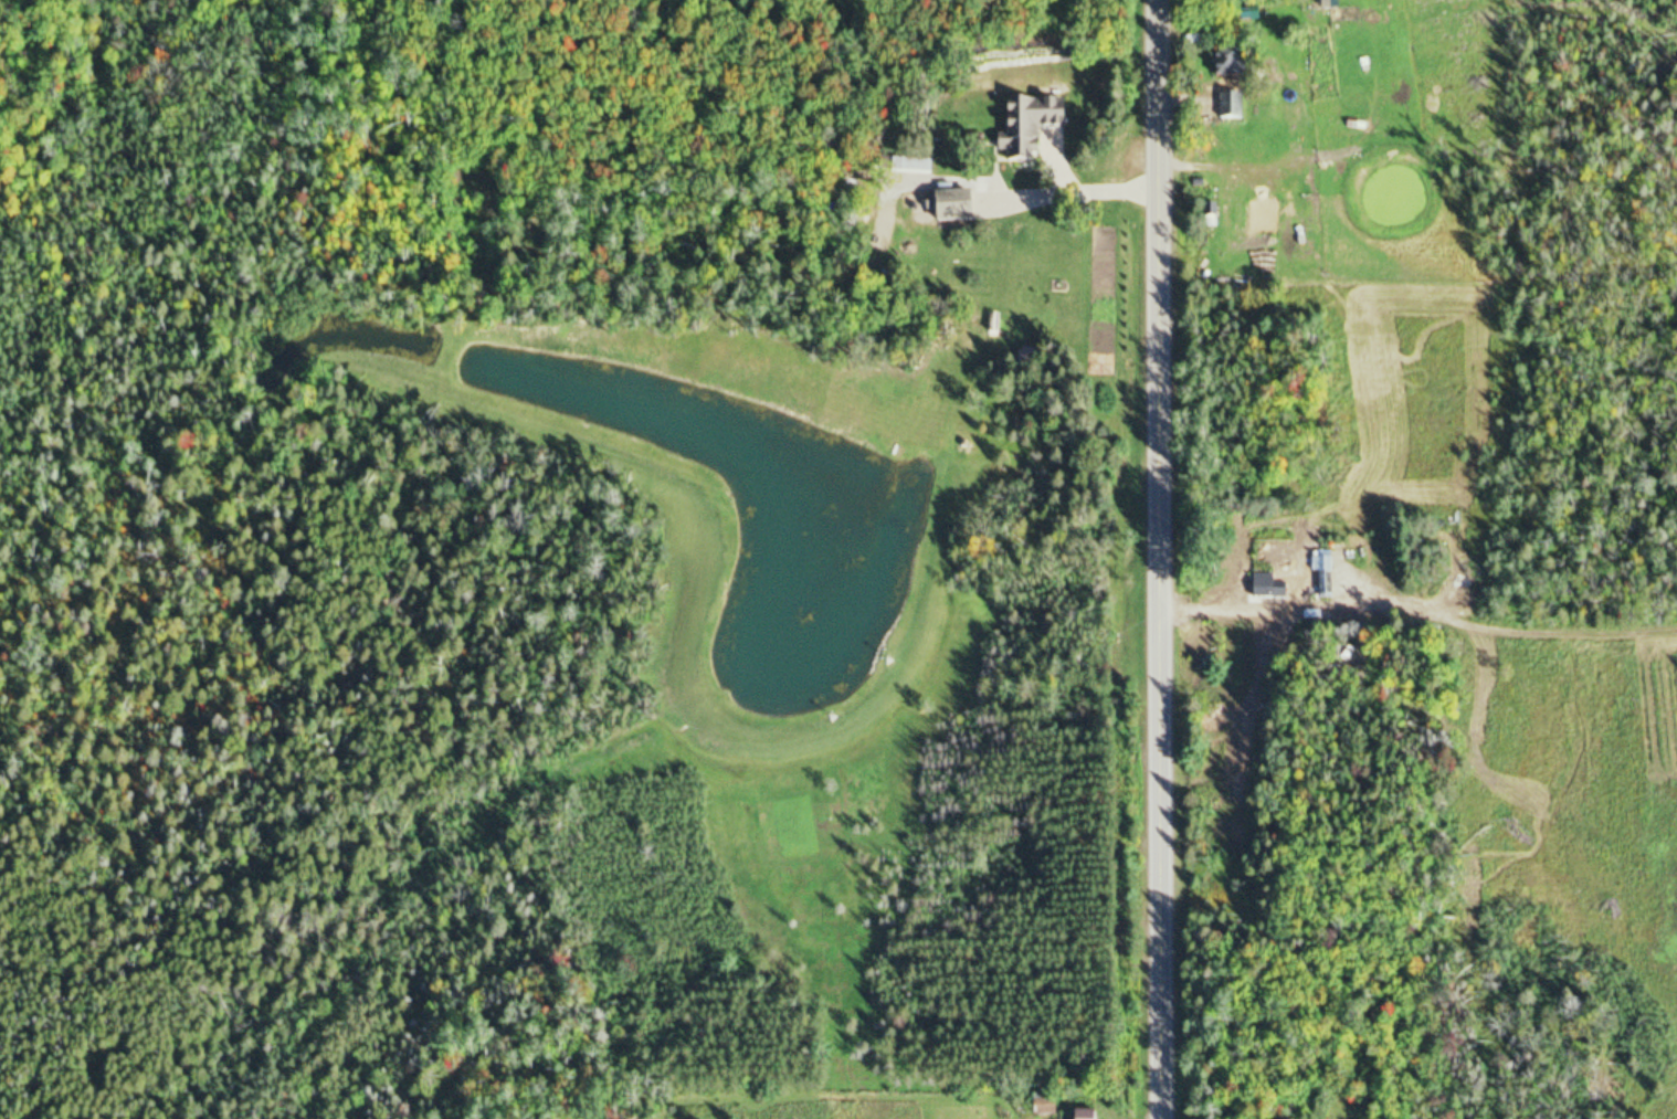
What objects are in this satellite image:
building: (1235, 63)
building: (1236, 107)
building: (1032, 127)
building: (914, 162)
building: (991, 199)
road: (1161, 559)
building: (1044, 1105)
building: (1087, 1113)

